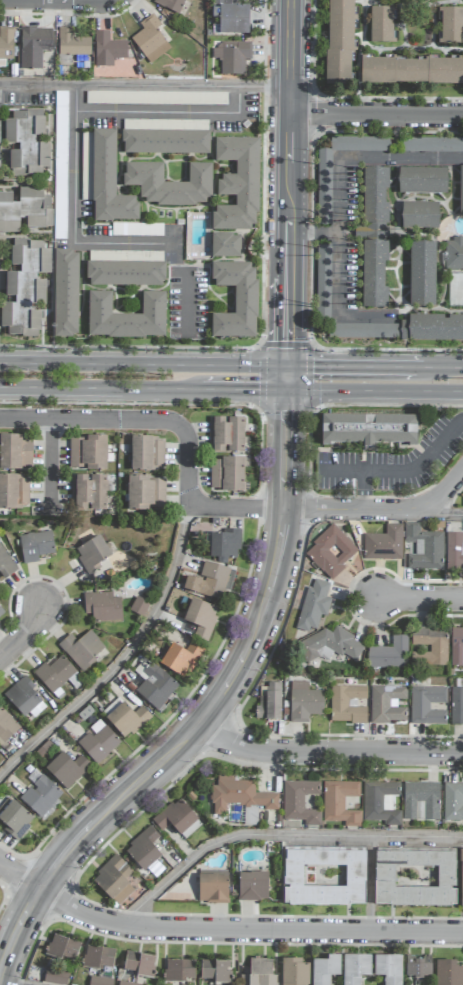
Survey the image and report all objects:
building: (170, 5)
building: (231, 17)
building: (382, 25)
building: (451, 26)
building: (150, 40)
building: (340, 42)
building: (72, 43)
building: (6, 45)
building: (34, 47)
building: (108, 50)
building: (231, 57)
building: (411, 71)
road: (144, 87)
building: (156, 98)
road: (76, 99)
road: (376, 114)
road: (75, 131)
building: (165, 142)
building: (26, 144)
building: (431, 145)
building: (60, 147)
road: (364, 159)
building: (103, 178)
building: (422, 181)
road: (288, 182)
building: (169, 184)
building: (237, 185)
building: (324, 188)
building: (461, 191)
building: (25, 210)
building: (420, 215)
building: (374, 237)
building: (225, 246)
building: (454, 254)
building: (125, 274)
building: (422, 274)
road: (338, 278)
building: (323, 281)
building: (25, 288)
building: (65, 293)
building: (236, 301)
building: (126, 317)
building: (432, 328)
building: (364, 331)
traffic signals: (287, 341)
road: (143, 363)
traffic signals: (313, 364)
road: (360, 364)
road: (448, 366)
road: (286, 376)
road: (98, 388)
road: (241, 389)
traffic signals: (259, 389)
road: (374, 390)
traffic signals: (286, 411)
road: (130, 419)
road: (462, 419)
building: (368, 429)
building: (226, 434)
building: (15, 452)
building: (88, 453)
building: (147, 454)
road: (50, 464)
road: (400, 471)
building: (227, 474)
road: (363, 490)
road: (440, 490)
building: (13, 491)
building: (88, 493)
building: (146, 493)
road: (302, 509)
road: (438, 515)
building: (384, 544)
building: (225, 545)
building: (35, 546)
building: (424, 548)
building: (331, 552)
building: (454, 552)
building: (92, 554)
building: (6, 565)
building: (210, 581)
road: (413, 599)
building: (139, 606)
building: (314, 606)
building: (102, 607)
building: (1, 611)
building: (200, 615)
road: (29, 633)
building: (332, 644)
building: (431, 645)
building: (456, 647)
building: (82, 649)
building: (388, 654)
road: (122, 657)
building: (181, 659)
building: (57, 674)
building: (156, 686)
building: (24, 699)
building: (269, 702)
building: (304, 702)
building: (347, 704)
building: (387, 704)
building: (427, 705)
building: (456, 705)
road: (207, 711)
building: (125, 717)
building: (6, 726)
building: (98, 742)
road: (326, 752)
building: (67, 769)
building: (240, 795)
building: (41, 796)
building: (421, 801)
building: (300, 802)
building: (380, 802)
building: (453, 802)
building: (340, 803)
building: (14, 818)
building: (178, 819)
road: (282, 840)
building: (143, 849)
building: (324, 876)
building: (415, 878)
building: (461, 878)
building: (114, 880)
building: (212, 886)
building: (253, 886)
road: (222, 931)
building: (63, 948)
building: (98, 957)
building: (140, 964)
building: (418, 966)
building: (355, 968)
building: (388, 968)
building: (325, 969)
building: (179, 970)
building: (215, 971)
building: (294, 972)
building: (259, 973)
building: (449, 973)
building: (56, 976)
building: (100, 981)
road: (1, 984)
building: (127, 984)

